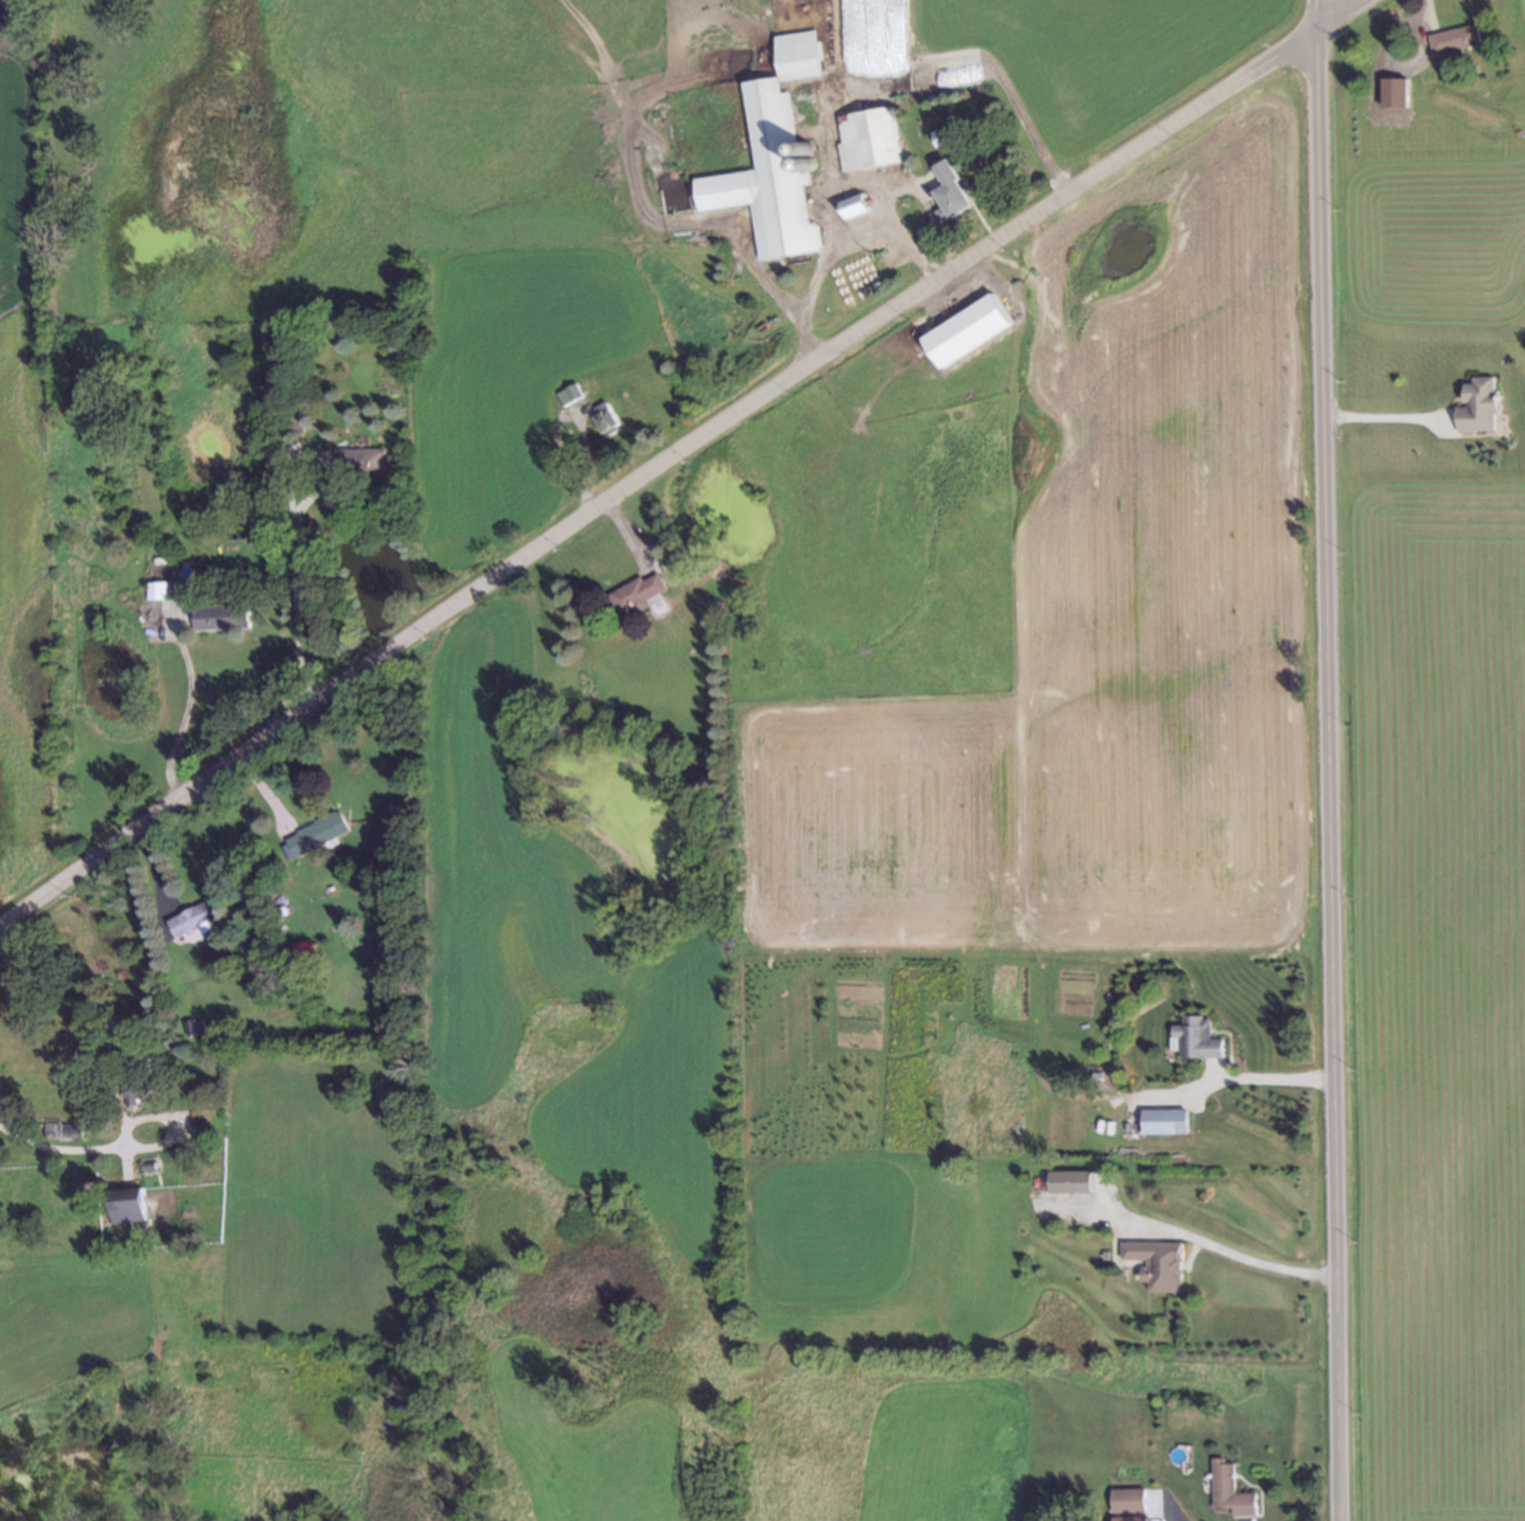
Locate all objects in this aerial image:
road: (1314, 15)
building: (1455, 39)
building: (801, 56)
road: (859, 88)
building: (941, 133)
building: (873, 141)
building: (768, 180)
building: (949, 189)
building: (856, 207)
building: (921, 229)
road: (892, 241)
building: (998, 258)
building: (968, 316)
building: (568, 392)
building: (1481, 406)
road: (1383, 416)
building: (604, 417)
building: (291, 422)
road: (677, 454)
building: (359, 458)
road: (293, 538)
building: (156, 589)
building: (636, 590)
building: (221, 616)
road: (185, 713)
road: (1327, 776)
building: (319, 834)
building: (199, 915)
building: (297, 952)
building: (193, 1028)
building: (1196, 1039)
building: (1095, 1076)
road: (1250, 1077)
building: (136, 1080)
building: (1167, 1123)
building: (61, 1128)
road: (71, 1149)
building: (187, 1152)
building: (147, 1164)
building: (1065, 1184)
building: (99, 1187)
building: (126, 1203)
road: (1210, 1244)
building: (1156, 1265)
building: (1233, 1493)
building: (1131, 1502)

